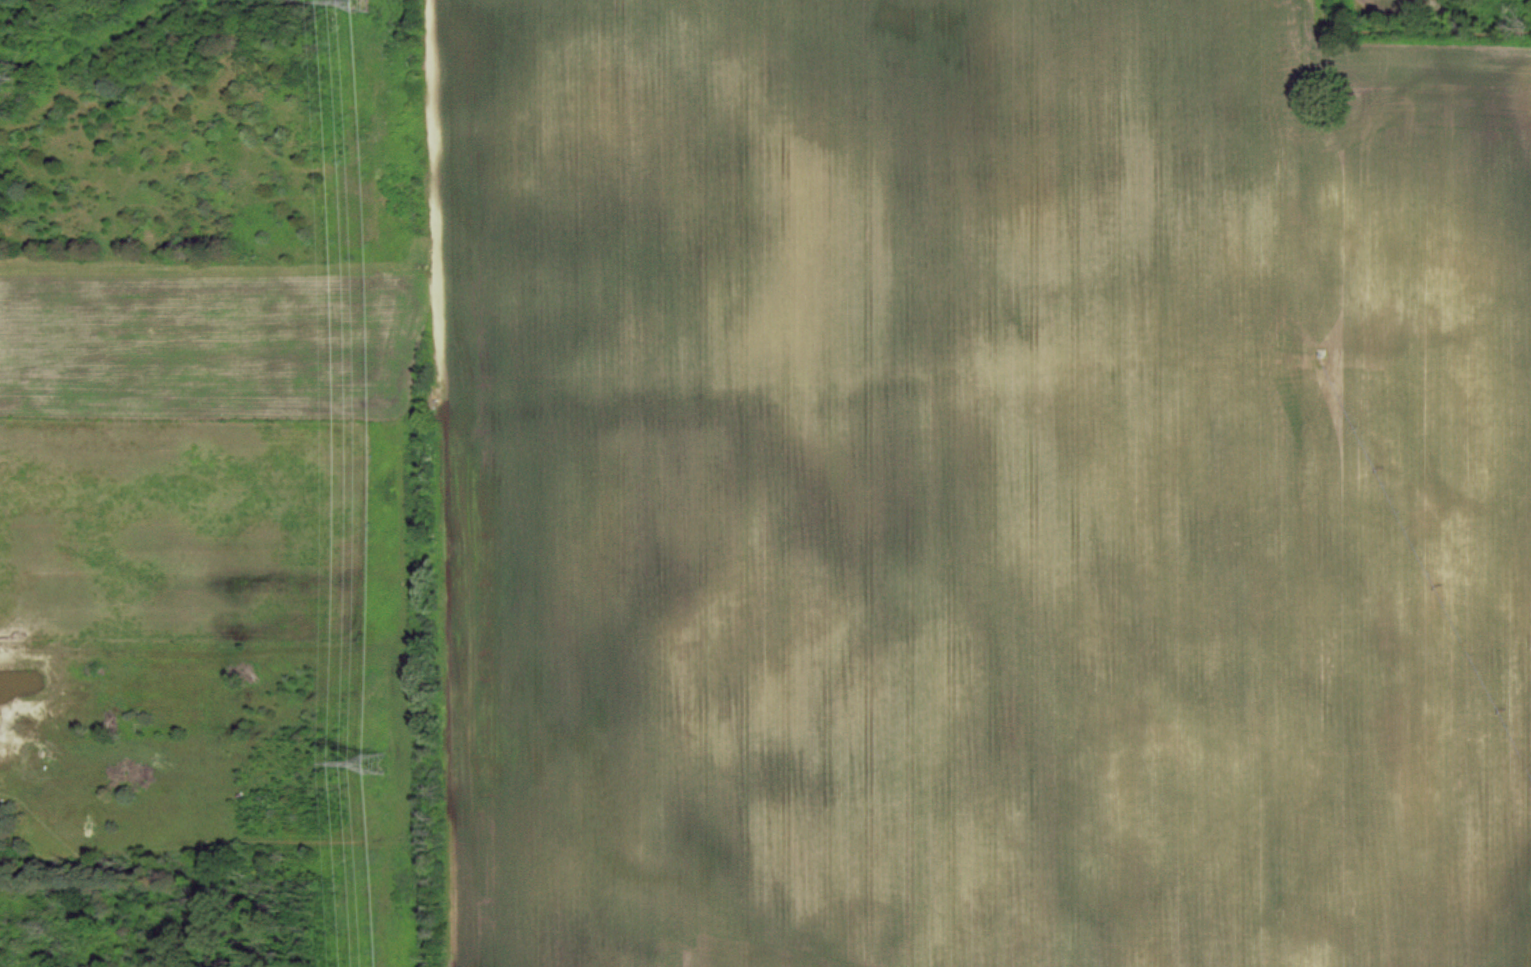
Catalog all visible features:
power tower: (381, 762)

